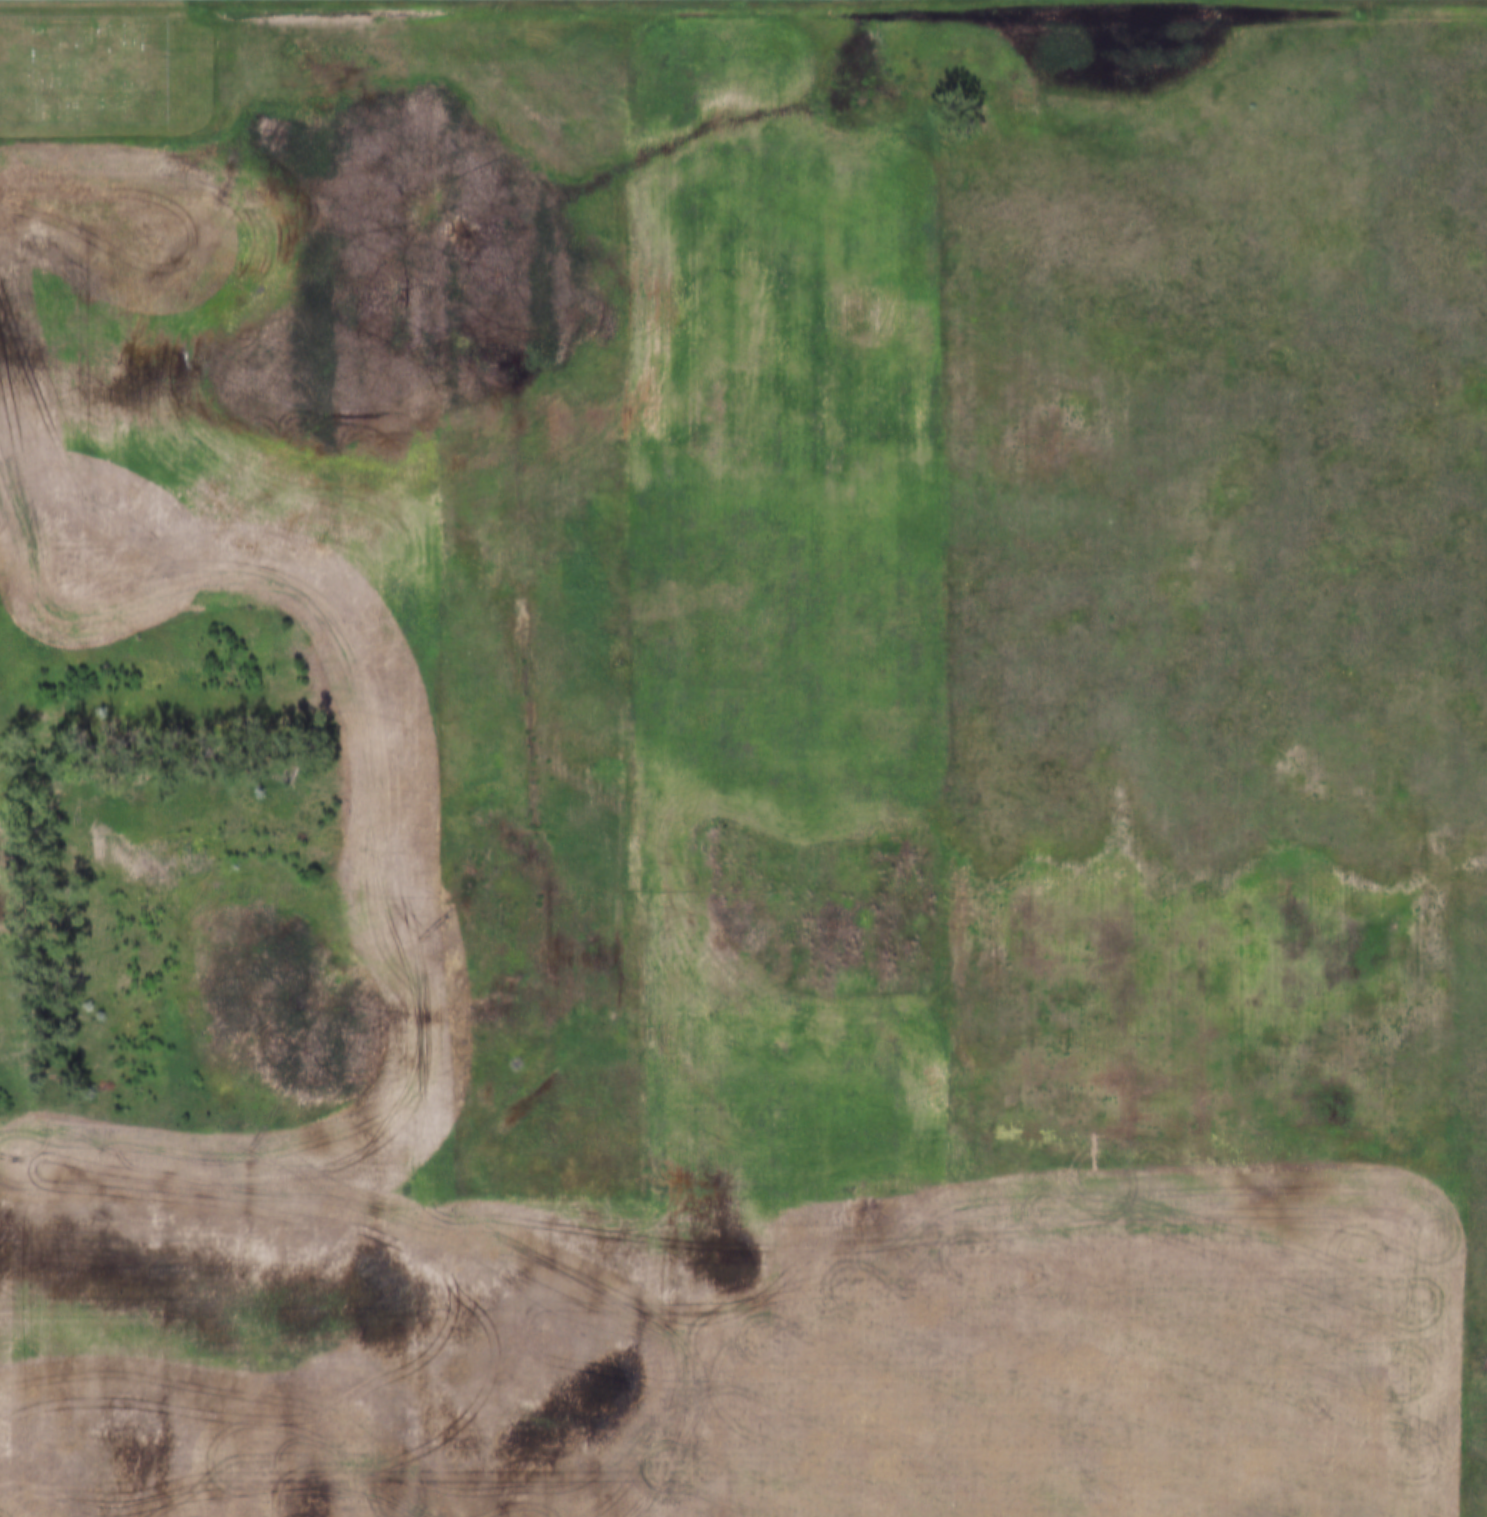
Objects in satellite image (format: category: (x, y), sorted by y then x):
park: (84, 69)

